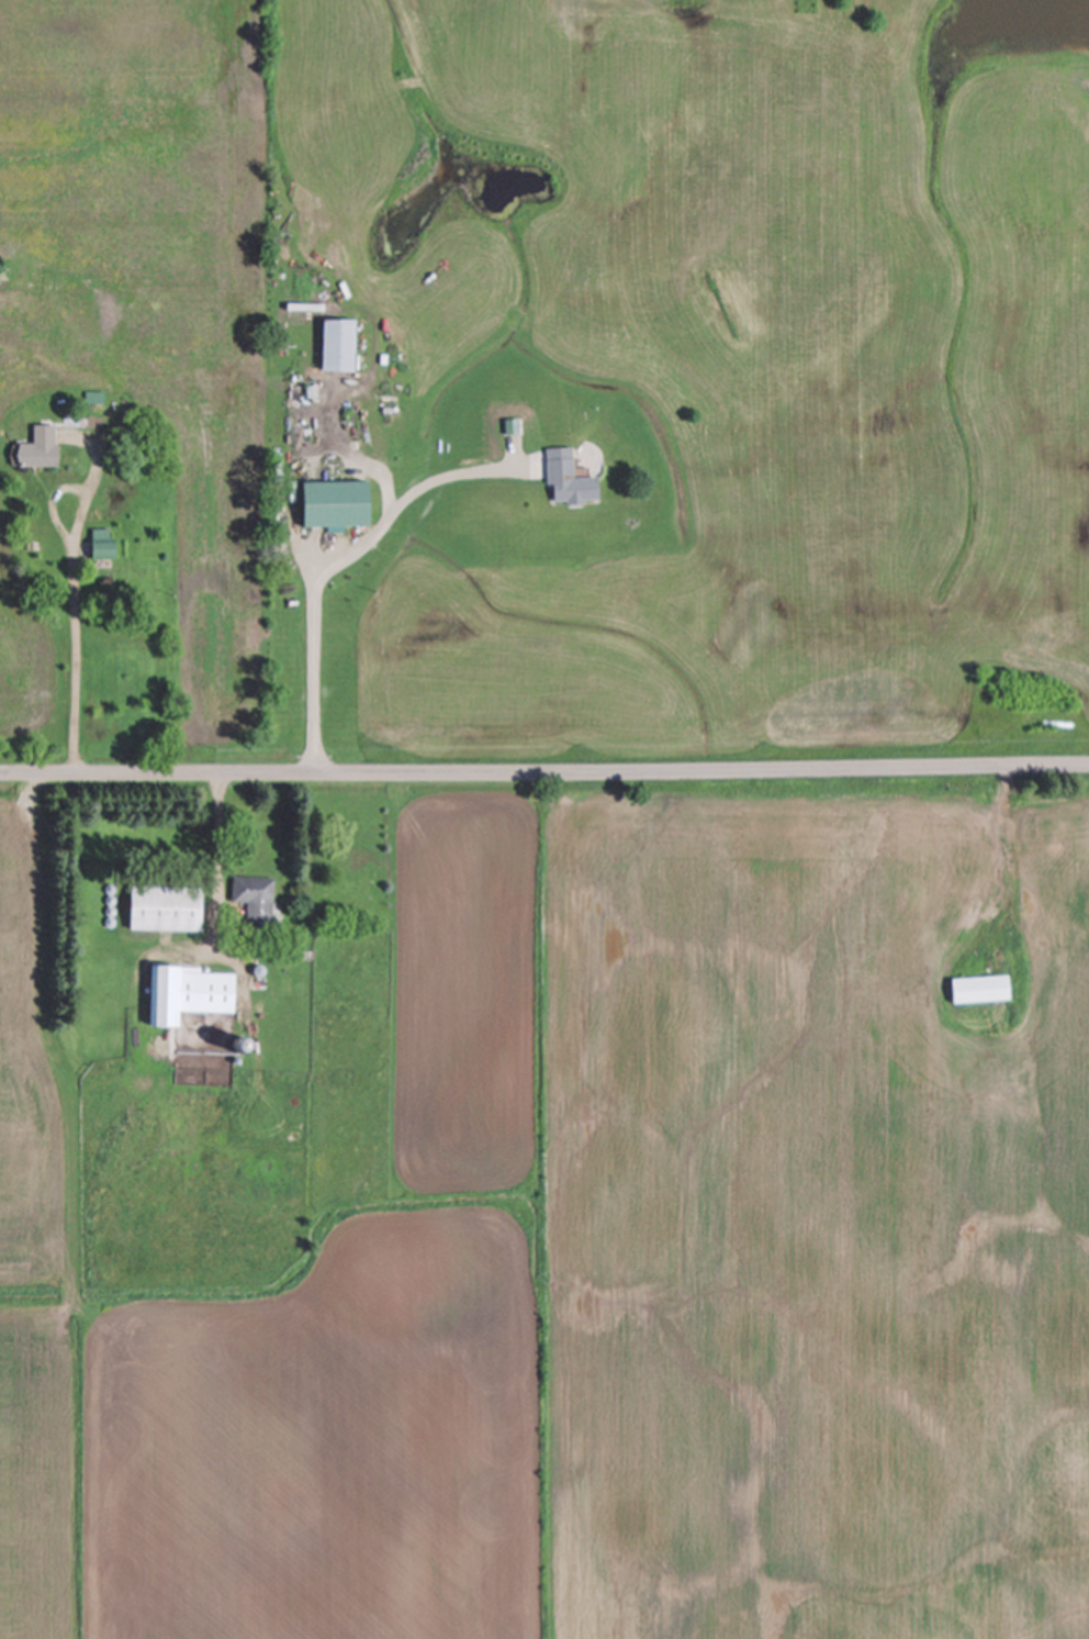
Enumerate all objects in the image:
building: (34, 449)
building: (566, 484)
building: (329, 504)
building: (100, 550)
road: (338, 561)
road: (76, 601)
road: (544, 777)
building: (250, 904)
building: (161, 908)
building: (975, 991)
building: (184, 993)

